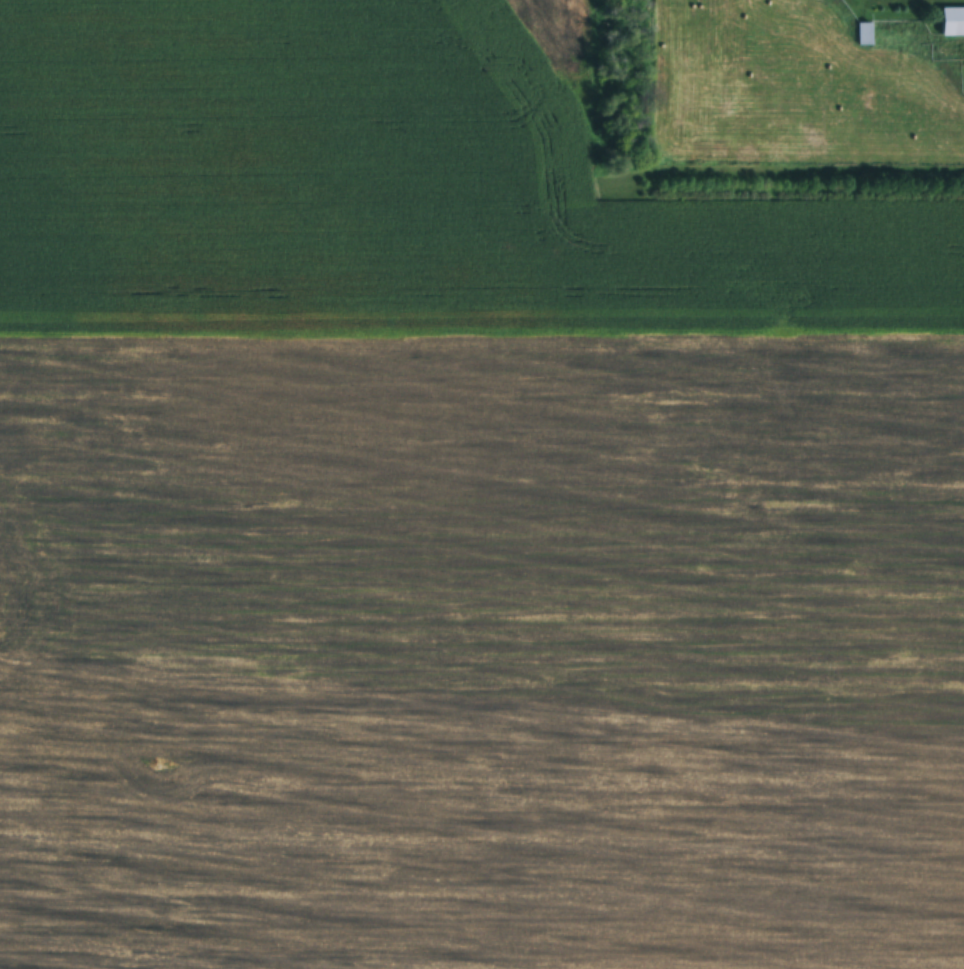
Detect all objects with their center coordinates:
building: (952, 21)
building: (862, 34)

